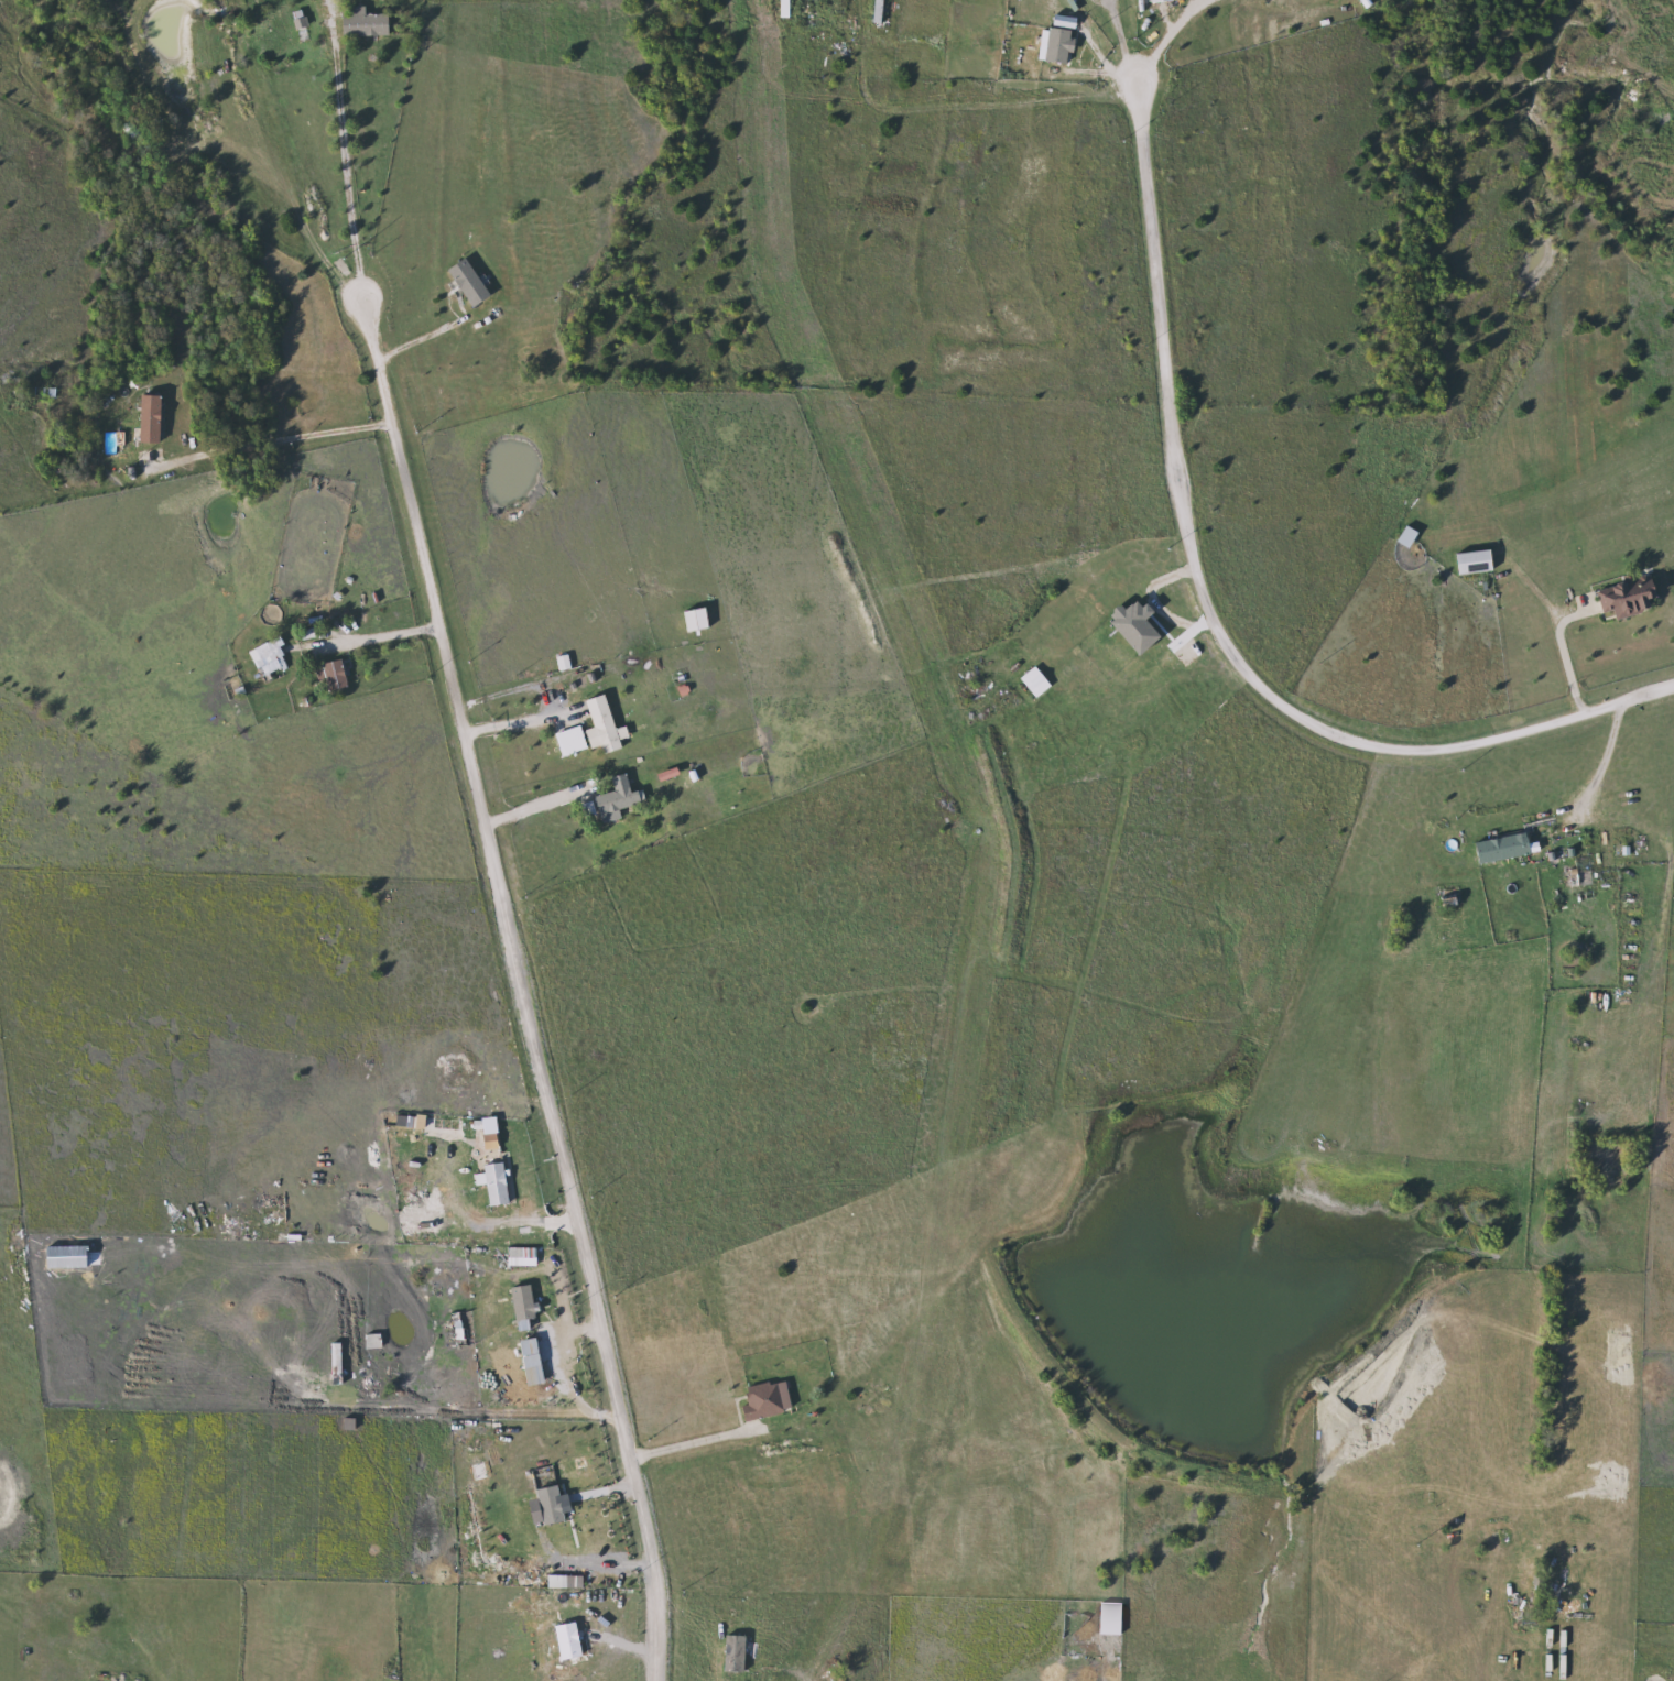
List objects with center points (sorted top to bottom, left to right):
building: (1156, 1)
building: (369, 24)
road: (1165, 41)
road: (1124, 43)
road: (1008, 98)
road: (345, 154)
building: (464, 282)
building: (145, 419)
road: (268, 443)
building: (1468, 561)
road: (1206, 616)
building: (1130, 626)
road: (379, 637)
road: (1171, 653)
building: (263, 658)
road: (1566, 662)
building: (329, 676)
building: (1032, 683)
road: (518, 723)
building: (596, 725)
road: (1604, 760)
building: (610, 800)
road: (539, 805)
building: (1499, 850)
road: (519, 987)
building: (491, 1183)
building: (761, 1400)
road: (688, 1443)

